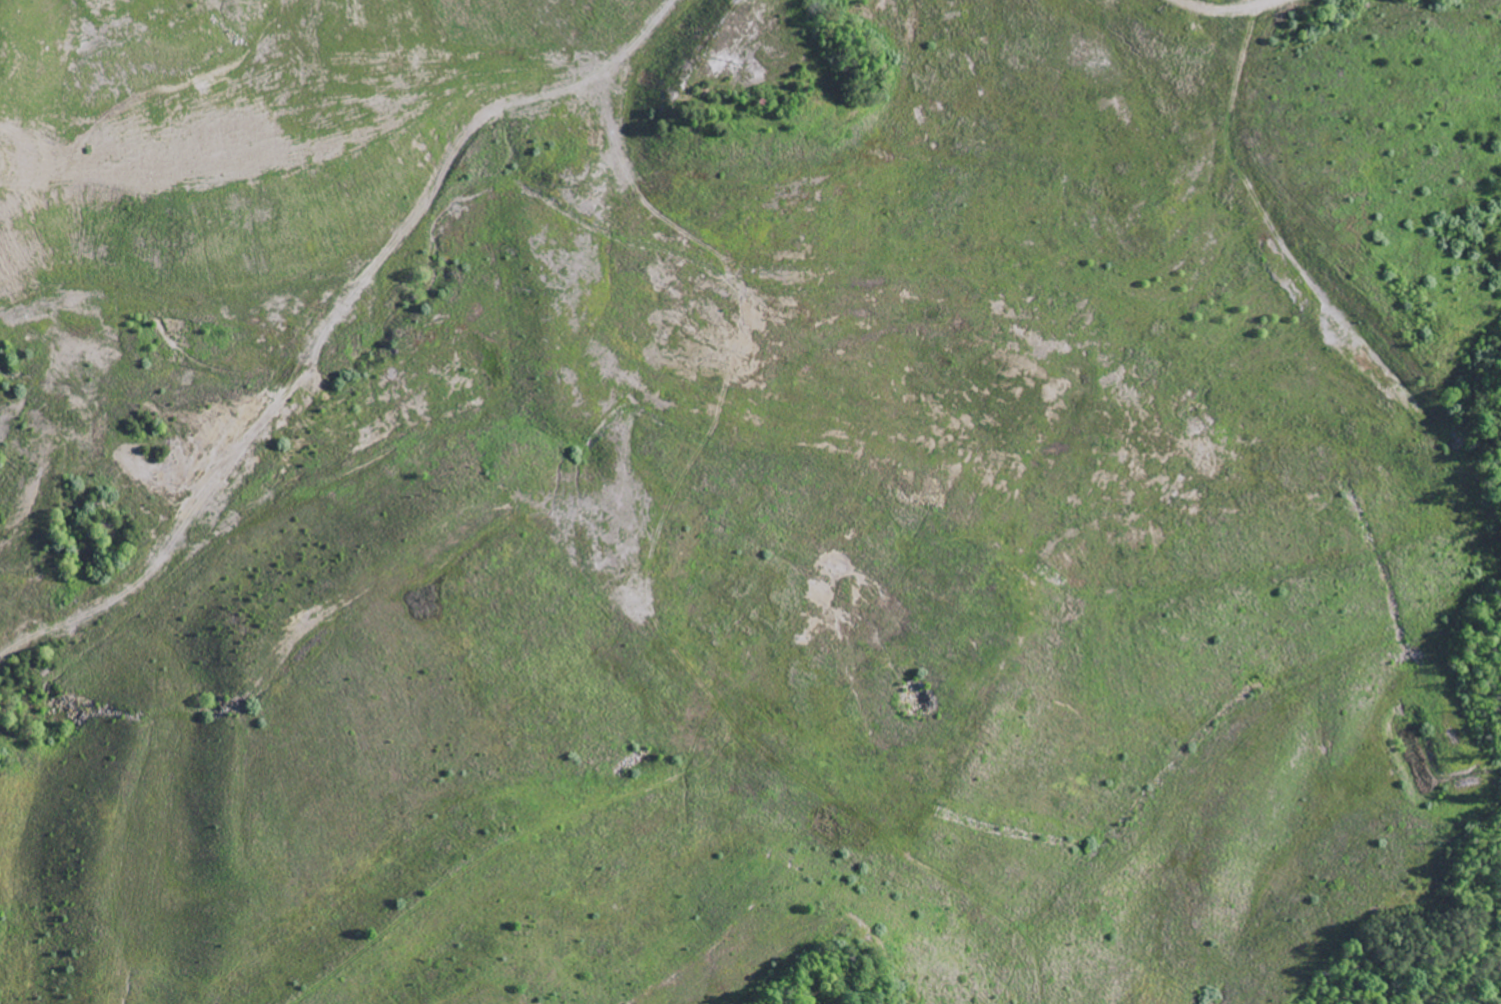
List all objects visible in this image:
road: (1207, 14)

